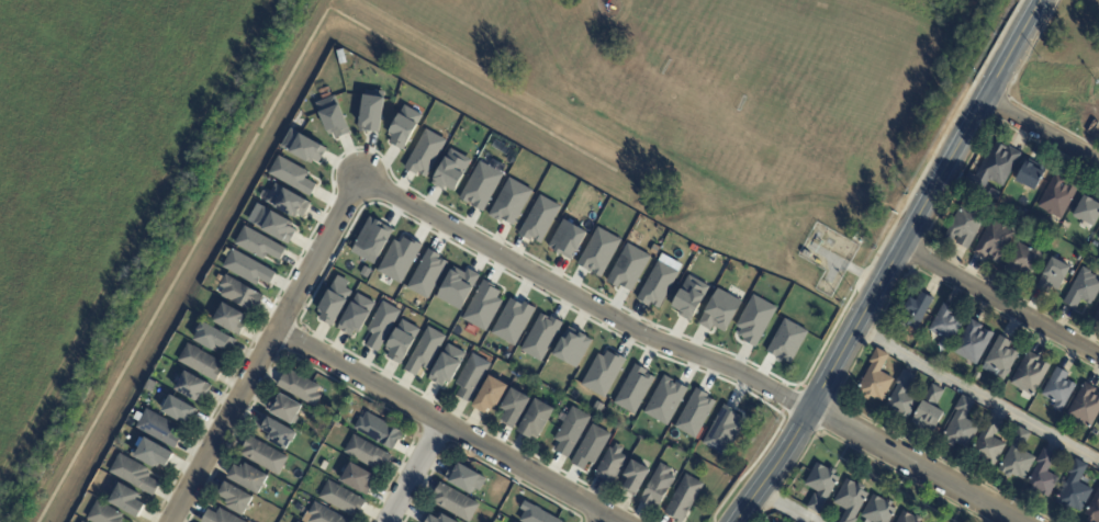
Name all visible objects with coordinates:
building: (371, 111)
building: (333, 116)
road: (740, 121)
building: (403, 127)
road: (1042, 130)
building: (302, 146)
building: (425, 154)
building: (994, 168)
building: (451, 170)
building: (291, 174)
building: (1030, 175)
building: (481, 185)
building: (993, 194)
building: (1057, 196)
building: (287, 201)
building: (511, 202)
building: (1087, 211)
building: (1024, 212)
building: (539, 219)
building: (1031, 219)
building: (273, 225)
building: (965, 227)
building: (1091, 235)
building: (373, 237)
building: (1098, 238)
building: (567, 239)
building: (994, 241)
building: (1096, 243)
building: (258, 245)
building: (598, 251)
building: (807, 256)
building: (399, 259)
building: (1023, 259)
road: (893, 262)
building: (247, 268)
building: (628, 268)
building: (426, 273)
building: (1053, 276)
building: (658, 284)
building: (457, 287)
building: (1083, 290)
building: (239, 293)
building: (689, 297)
building: (334, 303)
road: (1000, 303)
building: (482, 306)
building: (719, 310)
building: (916, 311)
building: (356, 315)
building: (1097, 316)
building: (229, 318)
building: (754, 319)
building: (513, 320)
building: (381, 325)
building: (945, 327)
building: (213, 337)
building: (540, 337)
building: (786, 340)
building: (401, 341)
building: (973, 342)
building: (572, 347)
road: (263, 350)
road: (682, 350)
building: (424, 351)
building: (1000, 358)
building: (200, 362)
building: (447, 365)
building: (602, 373)
building: (1030, 375)
building: (470, 376)
building: (976, 377)
building: (875, 379)
solar farm: (182, 381)
building: (149, 385)
building: (191, 386)
building: (299, 387)
building: (633, 388)
building: (1058, 389)
solar farm: (187, 393)
building: (489, 395)
building: (901, 396)
road: (977, 397)
building: (664, 400)
building: (597, 406)
building: (284, 407)
building: (513, 407)
building: (1085, 407)
building: (178, 409)
building: (928, 410)
building: (694, 412)
building: (535, 418)
road: (447, 425)
building: (961, 425)
building: (1098, 425)
building: (158, 428)
building: (379, 429)
building: (724, 430)
building: (570, 431)
building: (277, 432)
building: (988, 443)
building: (590, 447)
building: (365, 451)
building: (153, 454)
building: (265, 454)
building: (1017, 457)
building: (610, 464)
road: (417, 473)
building: (134, 474)
building: (1042, 475)
building: (249, 477)
building: (635, 477)
building: (357, 478)
building: (464, 478)
building: (657, 487)
building: (820, 487)
building: (1074, 489)
building: (235, 497)
building: (340, 498)
building: (126, 499)
building: (683, 499)
building: (850, 500)
building: (452, 503)
road: (785, 507)
building: (1094, 509)
building: (878, 511)
building: (103, 513)
building: (324, 514)
building: (536, 514)
building: (218, 517)
road: (603, 518)
building: (908, 518)
building: (434, 519)
building: (81, 521)
building: (298, 521)

